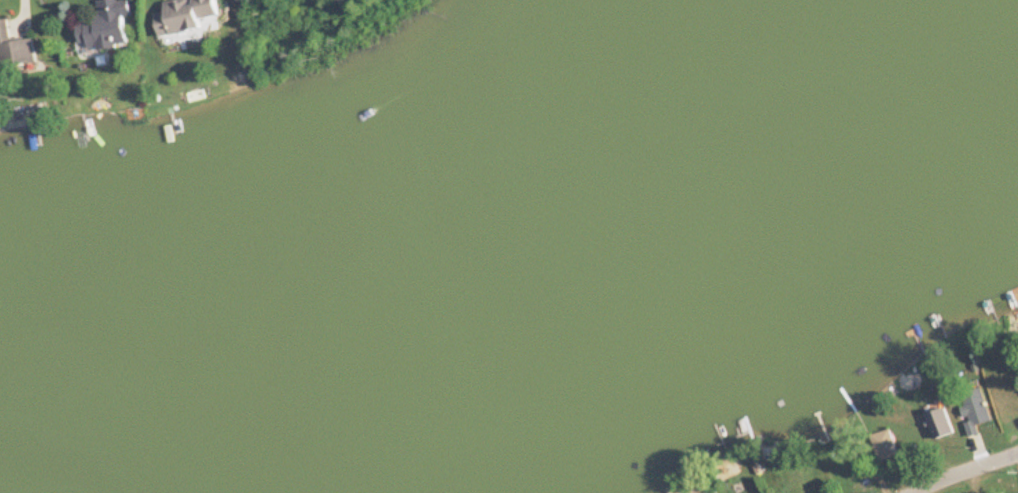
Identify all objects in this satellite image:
building: (186, 14)
building: (108, 26)
building: (16, 50)
building: (976, 408)
building: (941, 423)
building: (884, 446)
road: (965, 471)
road: (916, 492)

